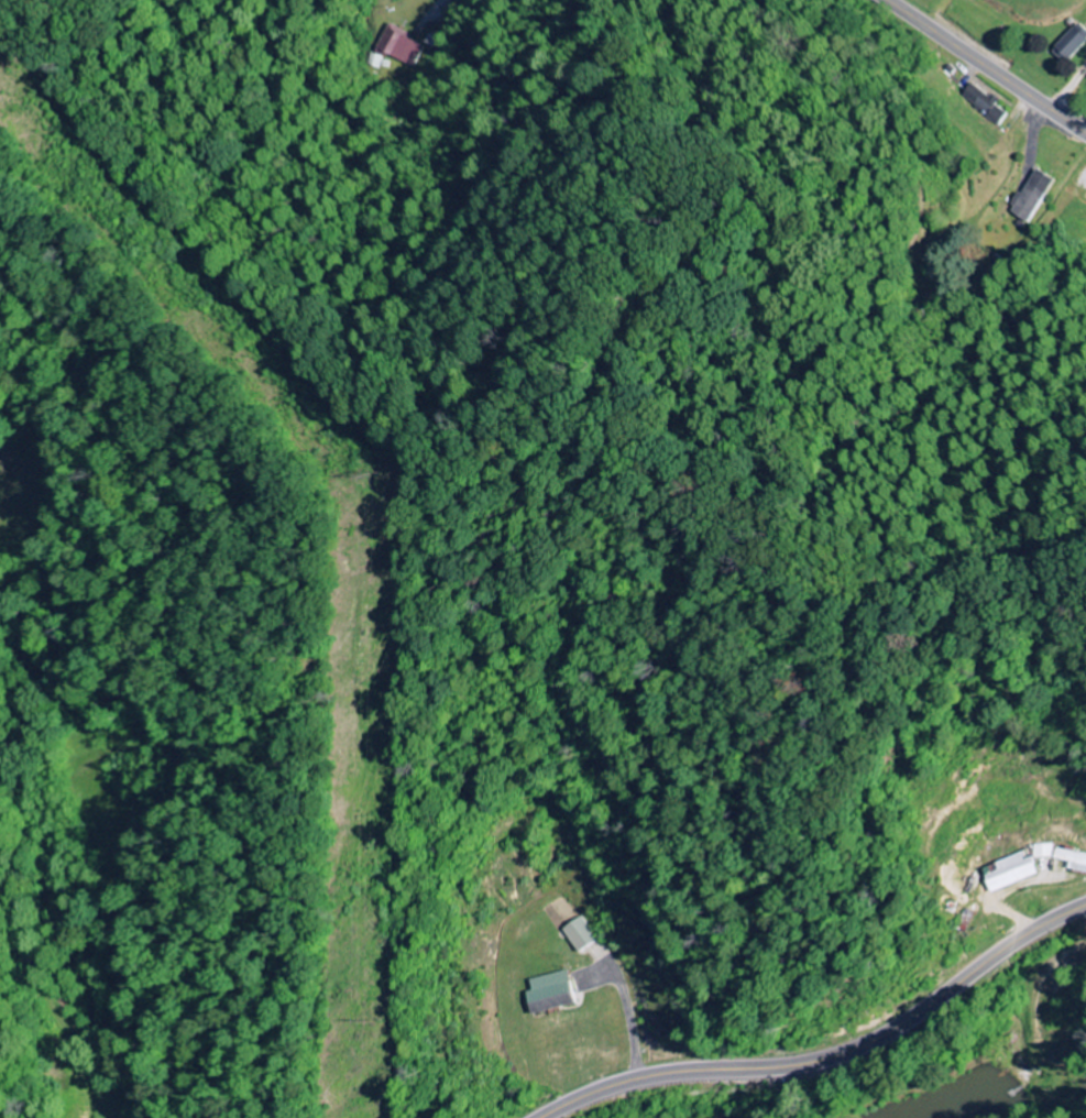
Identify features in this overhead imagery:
building: (1073, 44)
building: (399, 48)
road: (986, 66)
building: (987, 105)
building: (1032, 196)
power tower: (354, 475)
building: (1045, 852)
building: (1074, 859)
building: (1012, 873)
building: (583, 935)
building: (558, 994)
power tower: (351, 1022)
road: (831, 1055)

